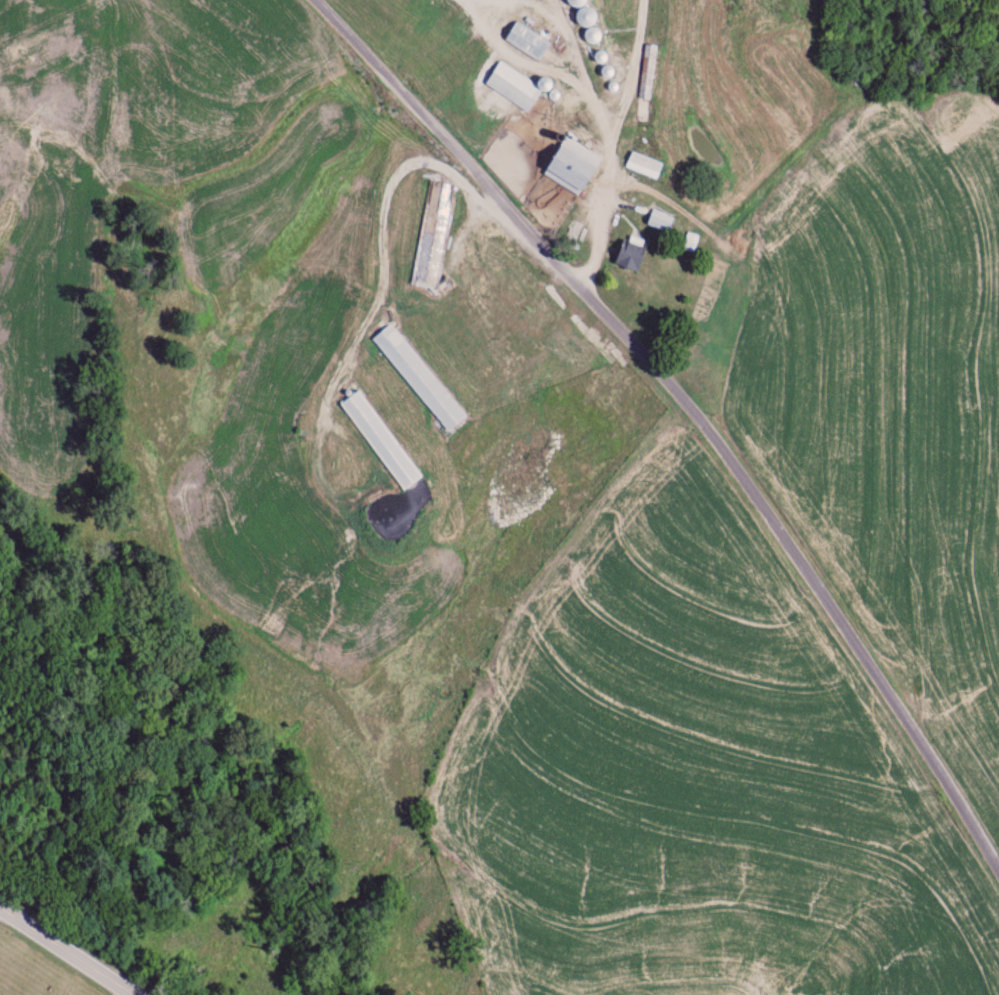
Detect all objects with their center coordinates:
building: (574, 3)
road: (484, 7)
building: (583, 17)
building: (591, 37)
road: (566, 39)
building: (526, 42)
building: (648, 73)
road: (629, 76)
building: (512, 87)
road: (593, 113)
building: (570, 166)
building: (643, 167)
building: (659, 222)
building: (432, 235)
building: (690, 243)
building: (628, 255)
road: (379, 284)
building: (536, 298)
building: (515, 318)
building: (471, 325)
building: (418, 379)
road: (688, 402)
building: (380, 441)
road: (66, 952)

